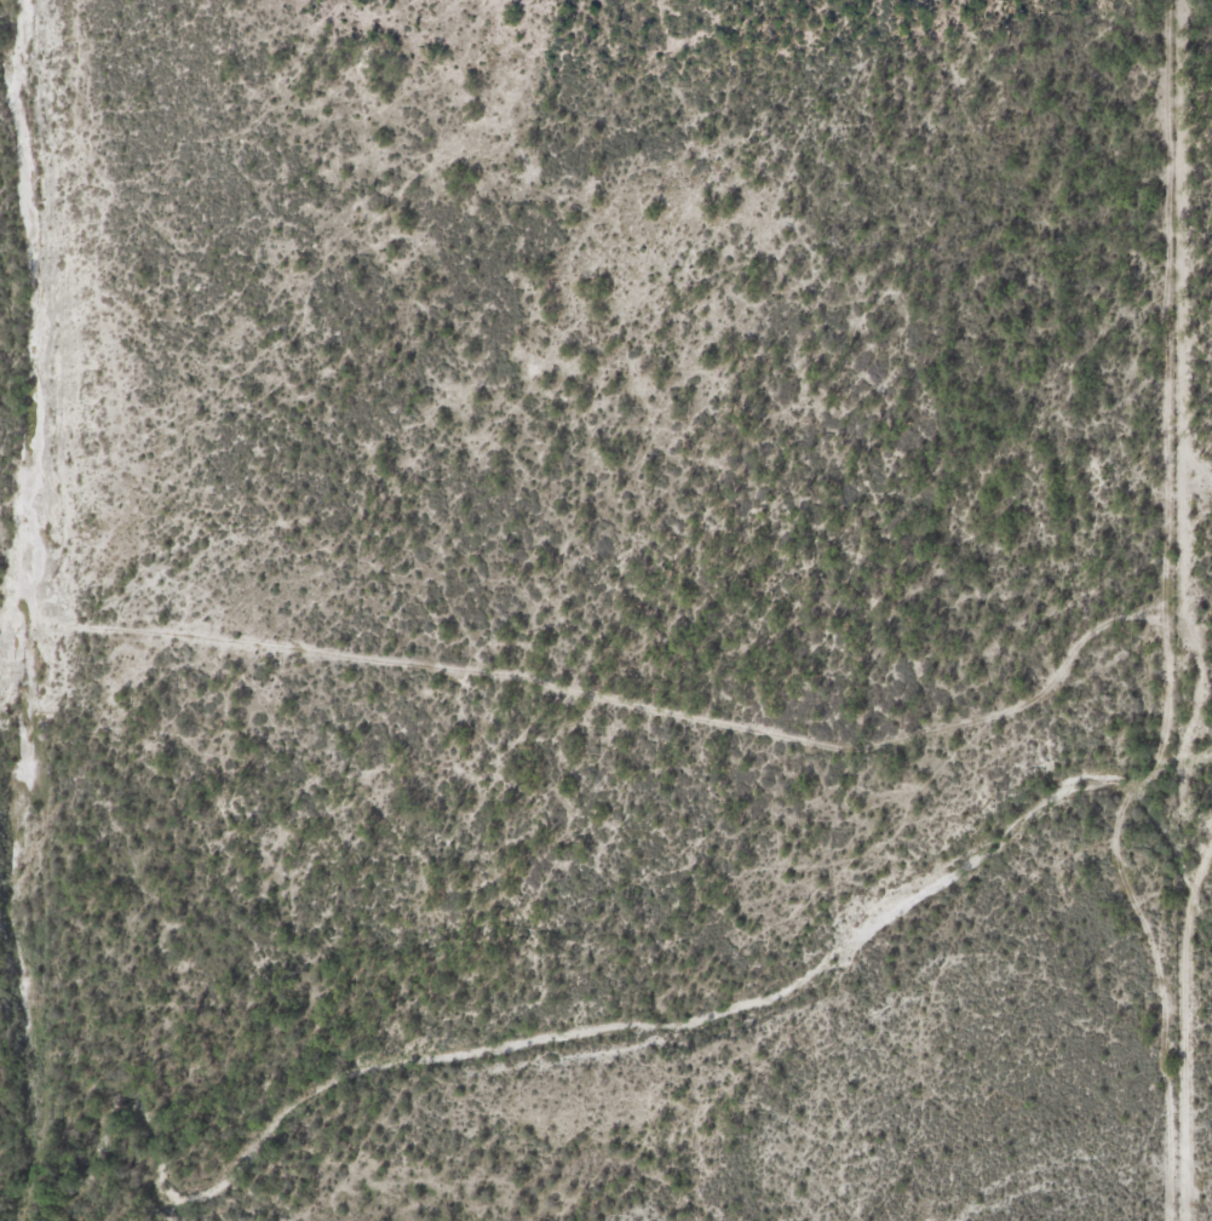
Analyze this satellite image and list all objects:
road: (596, 690)

